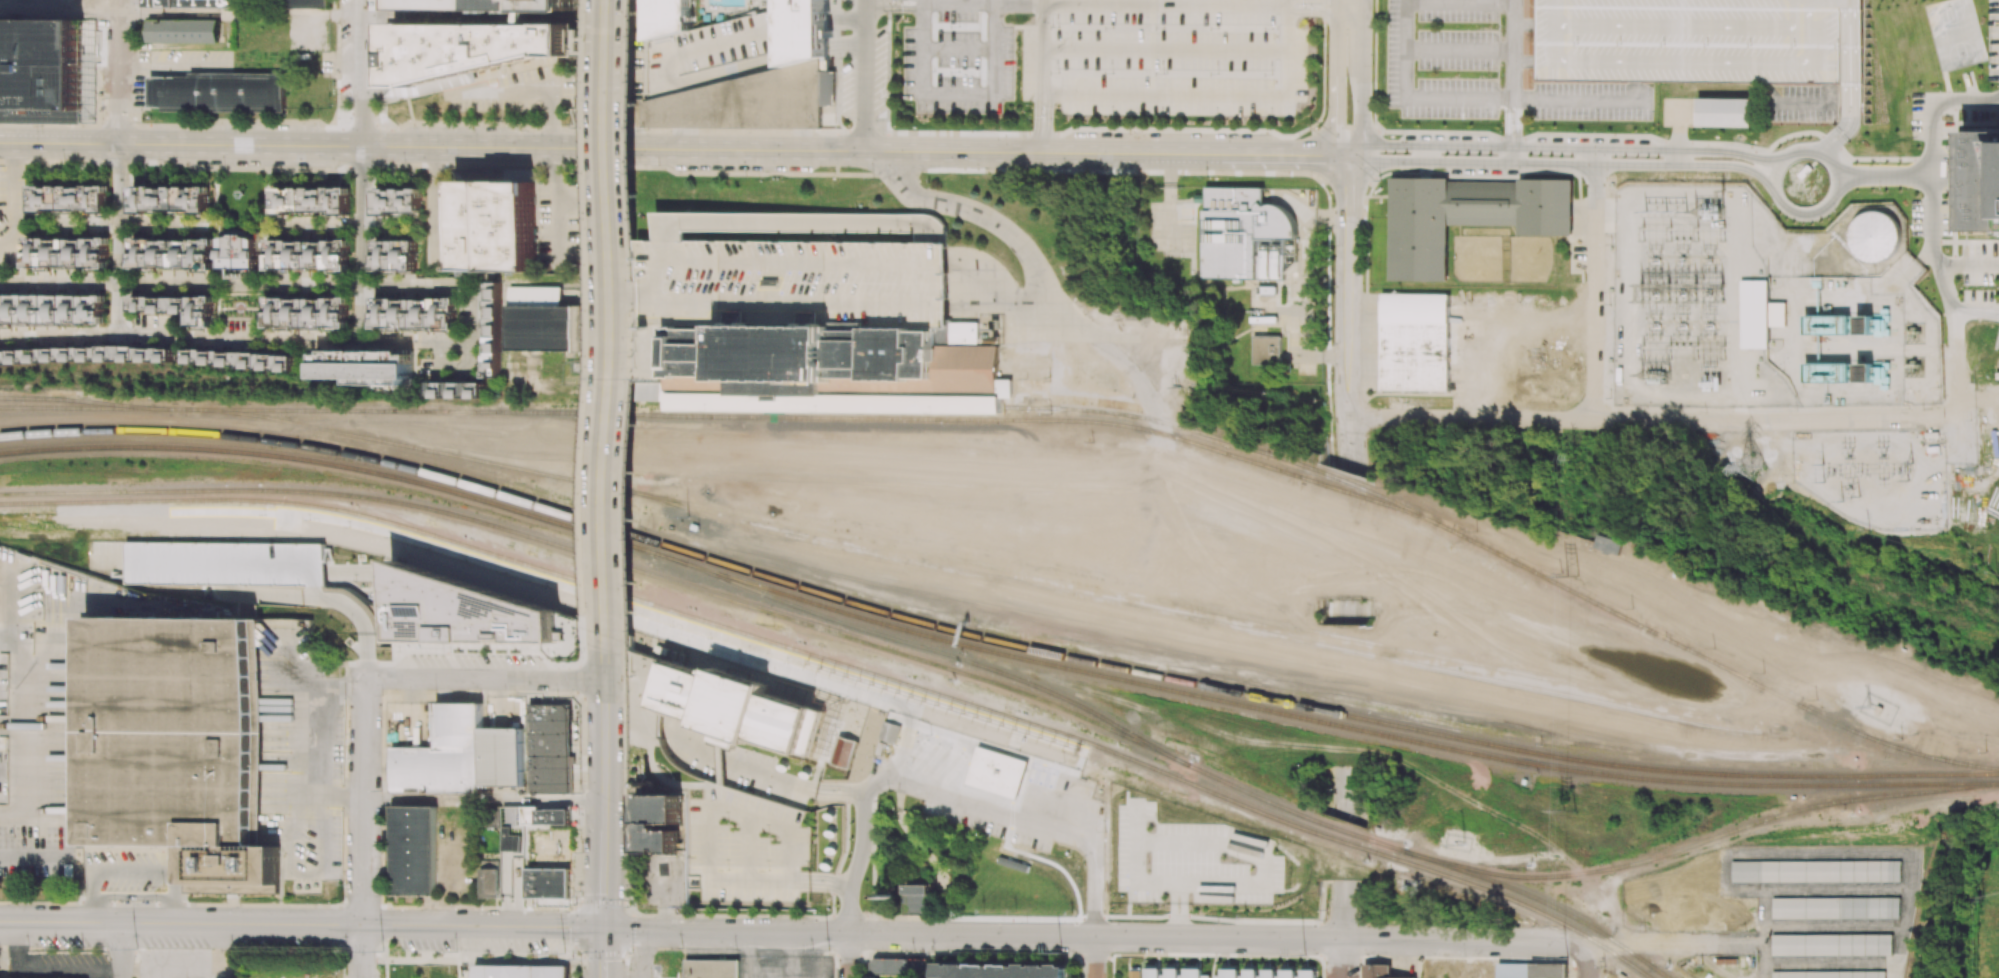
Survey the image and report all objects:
road: (876, 0)
road: (870, 1)
road: (923, 1)
road: (924, 1)
road: (994, 1)
road: (1040, 1)
road: (1406, 1)
road: (959, 2)
road: (1286, 2)
road: (1291, 2)
road: (1325, 2)
road: (1460, 2)
building: (199, 3)
road: (1140, 3)
building: (306, 4)
building: (498, 5)
road: (1333, 5)
road: (1350, 5)
road: (1845, 5)
road: (899, 8)
road: (1812, 10)
road: (1307, 11)
road: (59, 12)
road: (173, 13)
road: (327, 14)
road: (474, 16)
building: (667, 17)
road: (1526, 24)
building: (804, 26)
road: (1692, 27)
building: (186, 32)
road: (1336, 33)
building: (1702, 41)
parking lot: (1702, 41)
road: (1856, 42)
road: (1040, 47)
road: (1845, 48)
building: (479, 49)
road: (1459, 50)
road: (1513, 50)
parking lot: (719, 53)
parking lot: (1105, 57)
road: (1526, 61)
road: (1675, 62)
road: (1374, 64)
street lamp: (1326, 65)
street lamp: (1372, 65)
building: (43, 70)
road: (117, 72)
road: (364, 73)
parking lot: (1485, 73)
road: (864, 75)
road: (1362, 79)
road: (540, 87)
building: (827, 88)
road: (959, 92)
building: (220, 93)
road: (1207, 93)
road: (1632, 93)
road: (1772, 93)
road: (1041, 94)
road: (1830, 94)
building: (748, 100)
road: (1965, 100)
road: (1409, 101)
road: (1572, 102)
road: (1641, 103)
parking lot: (1802, 103)
road: (1802, 103)
road: (1681, 110)
road: (1035, 111)
road: (1048, 111)
road: (1335, 112)
building: (1728, 114)
street lamp: (1835, 115)
road: (1844, 115)
road: (1854, 118)
street lamp: (1429, 120)
road: (1507, 120)
street lamp: (1487, 121)
road: (1517, 121)
street lamp: (1543, 122)
street lamp: (1597, 122)
street lamp: (1310, 123)
street lamp: (1652, 123)
street lamp: (1818, 123)
street lamp: (838, 128)
road: (1679, 129)
street lamp: (981, 130)
road: (1444, 132)
road: (1931, 138)
road: (1040, 139)
road: (1512, 143)
street lamp: (1849, 143)
road: (58, 144)
road: (240, 146)
road: (1567, 147)
road: (442, 148)
road: (1827, 148)
road: (595, 149)
road: (744, 150)
road: (993, 151)
road: (1258, 154)
road: (1425, 154)
road: (1512, 155)
road: (1679, 157)
street lamp: (1879, 163)
road: (1564, 164)
road: (1425, 170)
building: (1804, 171)
street lamp: (1064, 174)
street lamp: (744, 177)
street lamp: (1213, 177)
road: (1884, 177)
street lamp: (871, 180)
street lamp: (1380, 181)
building: (1981, 182)
building: (1484, 185)
road: (1348, 187)
street lamp: (1879, 188)
road: (10, 196)
building: (69, 198)
building: (169, 199)
building: (310, 201)
flagpole: (1379, 201)
building: (397, 202)
road: (551, 203)
street lamp: (1771, 203)
road: (433, 206)
road: (580, 206)
street lamp: (1834, 210)
road: (1796, 214)
building: (1483, 221)
road: (359, 224)
building: (717, 224)
road: (805, 224)
road: (120, 225)
building: (499, 227)
building: (1418, 230)
building: (1246, 235)
building: (1874, 236)
road: (117, 240)
road: (671, 242)
street lamp: (1608, 242)
road: (363, 245)
building: (66, 252)
building: (239, 252)
building: (171, 253)
building: (307, 255)
building: (394, 255)
road: (656, 263)
parking lot: (799, 264)
road: (1034, 265)
road: (1936, 265)
road: (1967, 265)
street lamp: (1362, 273)
building: (774, 282)
road: (1594, 283)
street lamp: (1552, 284)
road: (1347, 287)
building: (1267, 290)
power tower: (1641, 292)
road: (632, 299)
road: (945, 299)
road: (757, 300)
power substation: (1690, 301)
street lamp: (1608, 303)
building: (177, 308)
building: (51, 309)
building: (1754, 309)
building: (307, 312)
building: (414, 313)
road: (477, 314)
road: (1483, 314)
road: (749, 318)
building: (538, 320)
road: (608, 320)
chimney: (1858, 328)
building: (493, 333)
building: (1415, 342)
building: (1997, 342)
building: (1266, 351)
power tower: (1725, 351)
building: (158, 355)
building: (71, 356)
building: (241, 359)
road: (1953, 361)
building: (366, 366)
building: (833, 369)
street lamp: (1331, 371)
building: (1826, 372)
chimney: (1857, 375)
power tower: (1655, 377)
road: (1346, 385)
building: (456, 390)
street lamp: (1609, 397)
road: (1337, 399)
street lamp: (1939, 402)
railway: (85, 409)
railway: (1038, 409)
street lamp: (1700, 409)
street lamp: (1908, 409)
street lamp: (1795, 410)
road: (1644, 419)
railway: (1001, 420)
street lamp: (1532, 429)
road: (1327, 431)
street lamp: (1367, 437)
road: (1340, 442)
railway: (400, 444)
road: (1352, 444)
railway: (1250, 448)
power tower: (1573, 460)
power tower: (1753, 467)
power tower: (1822, 472)
power substation: (1876, 477)
railway: (880, 542)
building: (1608, 545)
building: (223, 563)
power tower: (1571, 576)
road: (1323, 611)
road: (1337, 611)
road: (1353, 611)
building: (487, 616)
road: (361, 618)
railway: (1209, 622)
railway: (971, 636)
railway: (857, 641)
railway: (972, 647)
railway: (941, 653)
railway: (1466, 662)
railway: (843, 664)
building: (824, 669)
road: (485, 678)
street lamp: (434, 689)
street lamp: (381, 695)
building: (735, 707)
building: (941, 719)
road: (604, 720)
building: (890, 732)
road: (319, 741)
building: (180, 745)
building: (547, 748)
road: (691, 749)
building: (844, 751)
building: (459, 755)
railway: (1085, 758)
road: (719, 762)
railway: (1966, 764)
road: (26, 769)
building: (1003, 771)
railway: (1978, 773)
road: (767, 776)
railway: (1979, 783)
chimney: (647, 785)
road: (826, 785)
road: (1321, 789)
street lamp: (1328, 789)
street lamp: (381, 790)
road: (852, 792)
road: (1335, 792)
road: (1351, 794)
road: (825, 795)
road: (484, 800)
road: (987, 802)
power tower: (1567, 809)
building: (658, 824)
road: (708, 825)
road: (363, 827)
railway: (1700, 842)
building: (514, 843)
road: (1241, 848)
building: (412, 850)
road: (33, 857)
road: (856, 859)
parking lot: (1193, 859)
road: (603, 864)
street lamp: (381, 867)
road: (136, 868)
parking lot: (136, 869)
building: (1816, 871)
road: (819, 877)
building: (489, 879)
building: (547, 881)
road: (843, 883)
road: (818, 886)
building: (916, 889)
street lamp: (578, 893)
road: (136, 896)
chimney: (894, 896)
road: (1319, 899)
road: (1095, 900)
street lamp: (114, 901)
street lamp: (156, 901)
flagpole: (826, 903)
building: (1691, 903)
street lamp: (11, 904)
road: (1129, 904)
street lamp: (240, 906)
street lamp: (629, 906)
street lamp: (454, 908)
building: (1836, 908)
road: (91, 910)
street lamp: (1325, 910)
road: (1337, 910)
road: (1347, 910)
road: (180, 911)
road: (1206, 917)
street lamp: (1026, 920)
street lamp: (1217, 923)
road: (301, 924)
street lamp: (1536, 927)
traffic signals: (603, 929)
street lamp: (1643, 930)
street lamp: (1744, 930)
road: (972, 937)
road: (1320, 939)
road: (1462, 942)
road: (1758, 943)
road: (1642, 945)
building: (1833, 945)
power tower: (136, 948)
street lamp: (136, 948)
street lamp: (343, 948)
street lamp: (736, 949)
power tower: (382, 951)
street lamp: (631, 951)
power tower: (828, 951)
street lamp: (828, 951)
road: (123, 952)
power tower: (562, 952)
street lamp: (912, 952)
road: (603, 953)
power tower: (1061, 953)
street lamp: (482, 955)
street lamp: (525, 955)
power tower: (1304, 955)
street lamp: (1304, 955)
road: (849, 957)
street lamp: (1463, 957)
street lamp: (571, 958)
road: (1095, 958)
road: (1331, 958)
power tower: (1566, 958)
road: (1341, 959)
road: (1587, 962)
street lamp: (382, 965)
road: (191, 967)
building: (891, 967)
building: (711, 968)
road: (51, 969)
building: (1531, 970)
building: (514, 971)
building: (1002, 971)
building: (1152, 971)
building: (1172, 971)
building: (1193, 971)
building: (1376, 971)
building: (1228, 972)
building: (1268, 972)
building: (1288, 972)
building: (1308, 972)
street lamp: (1603, 972)
building: (1135, 973)
building: (1251, 973)
building: (1828, 974)
building: (666, 977)

